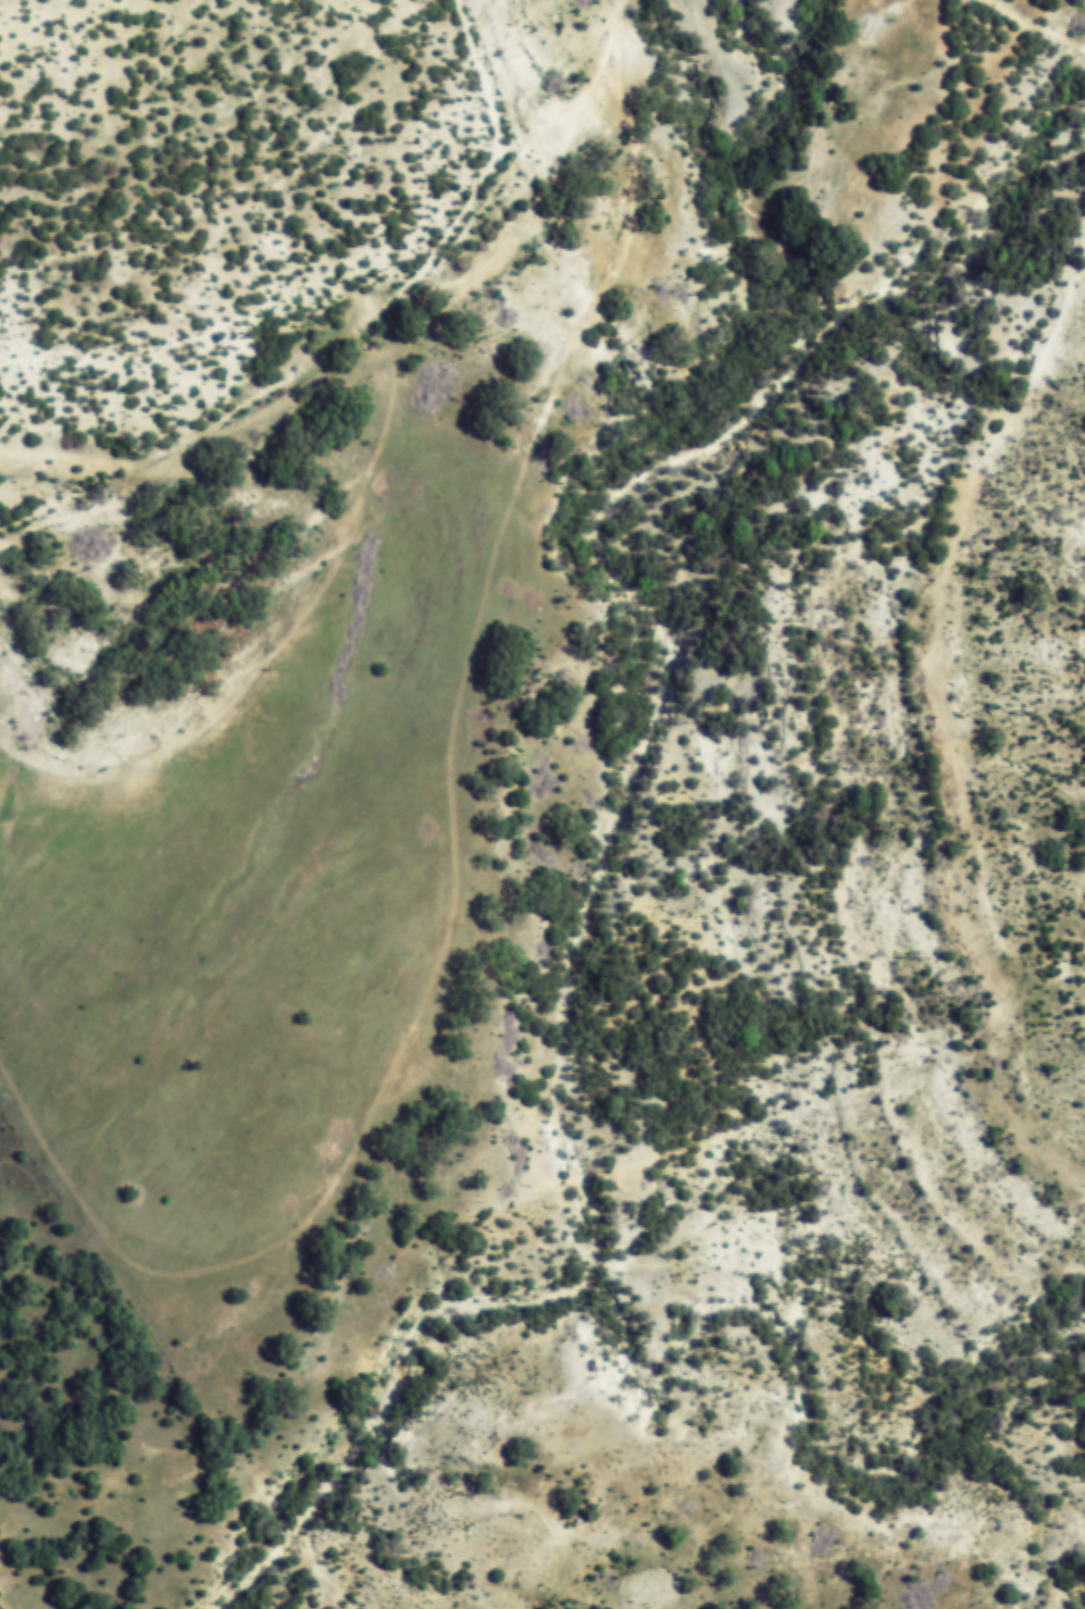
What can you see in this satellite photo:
road: (1040, 22)
road: (424, 269)
road: (63, 458)

